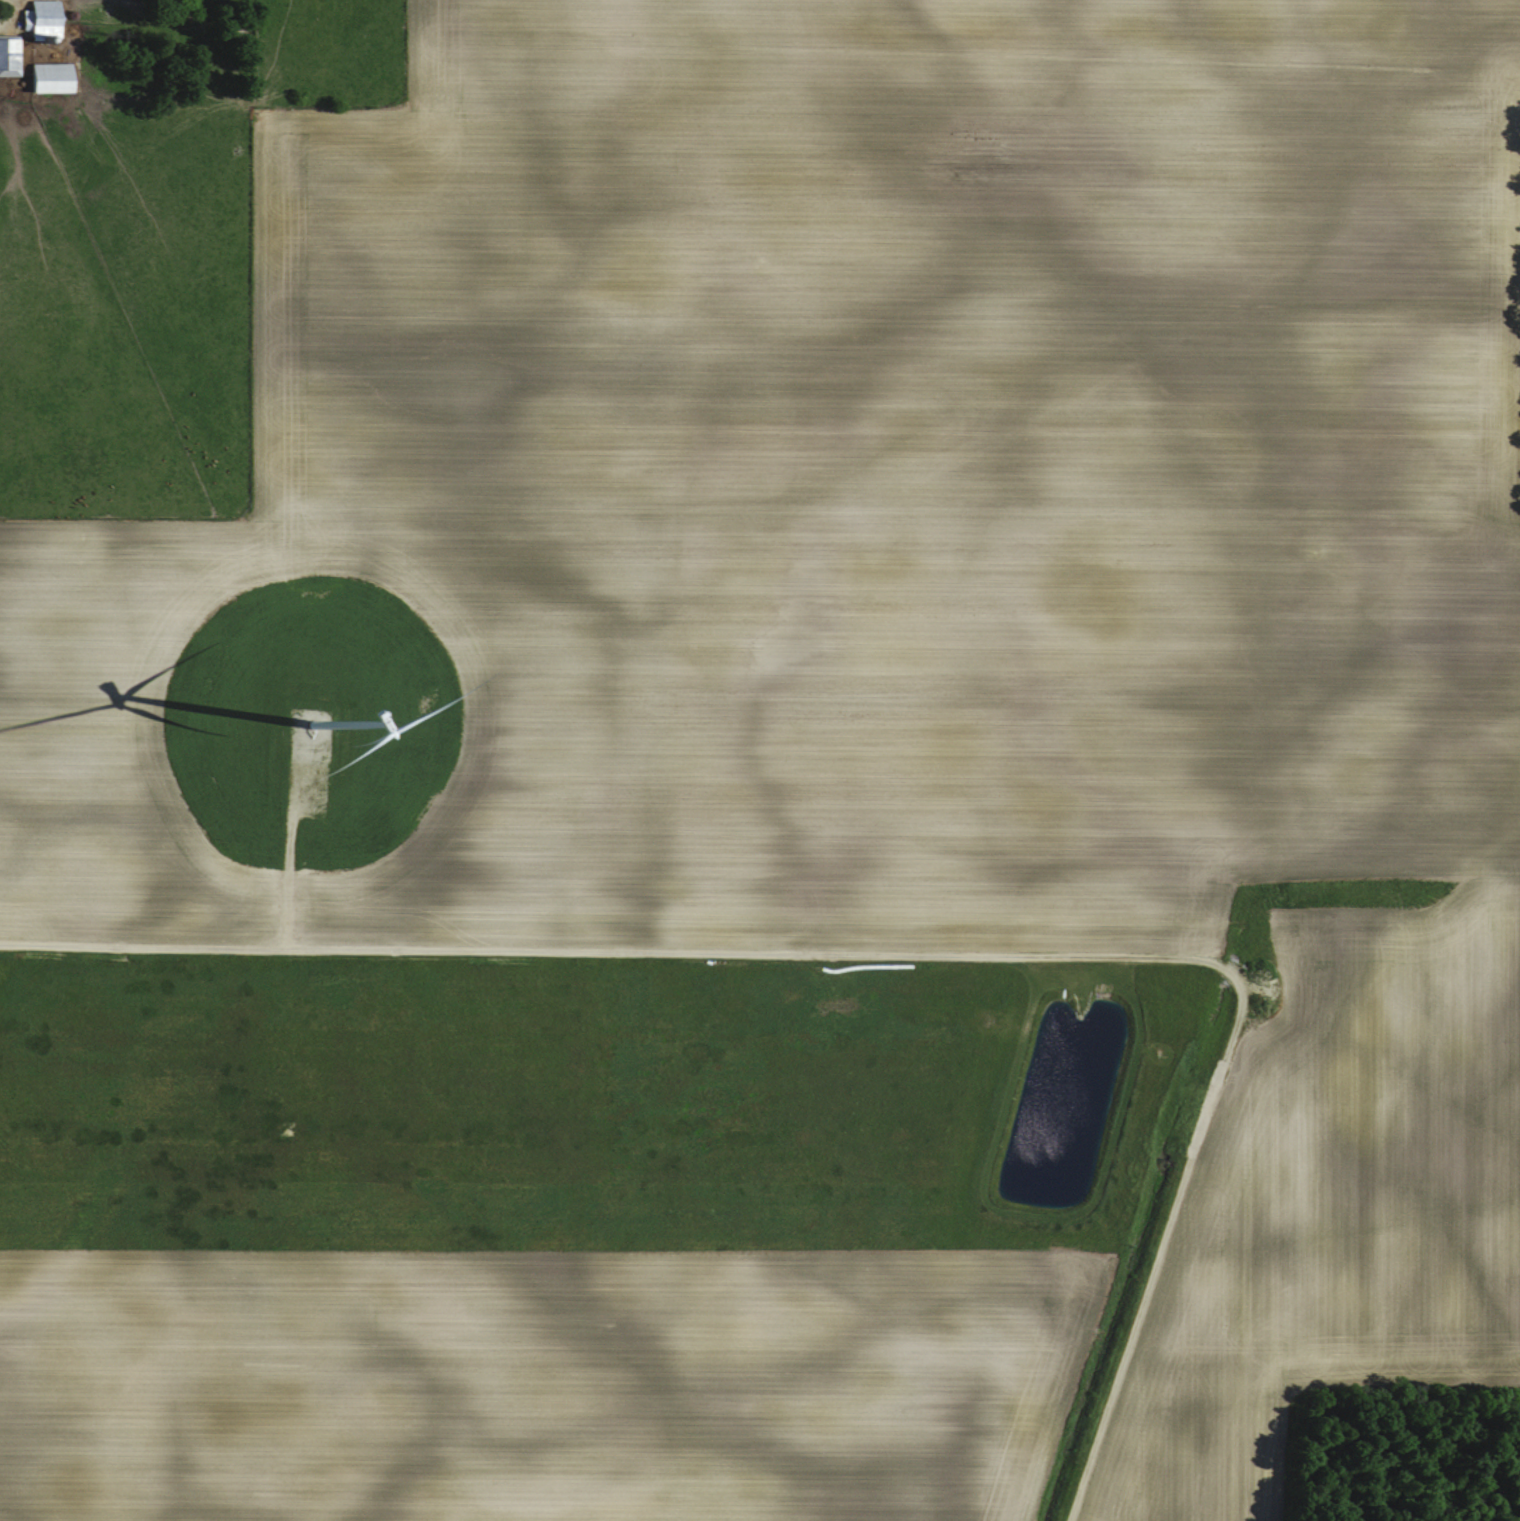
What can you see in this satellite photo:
road: (1, 4)
building: (42, 19)
building: (8, 56)
building: (47, 78)
wind turbine: (312, 725)

